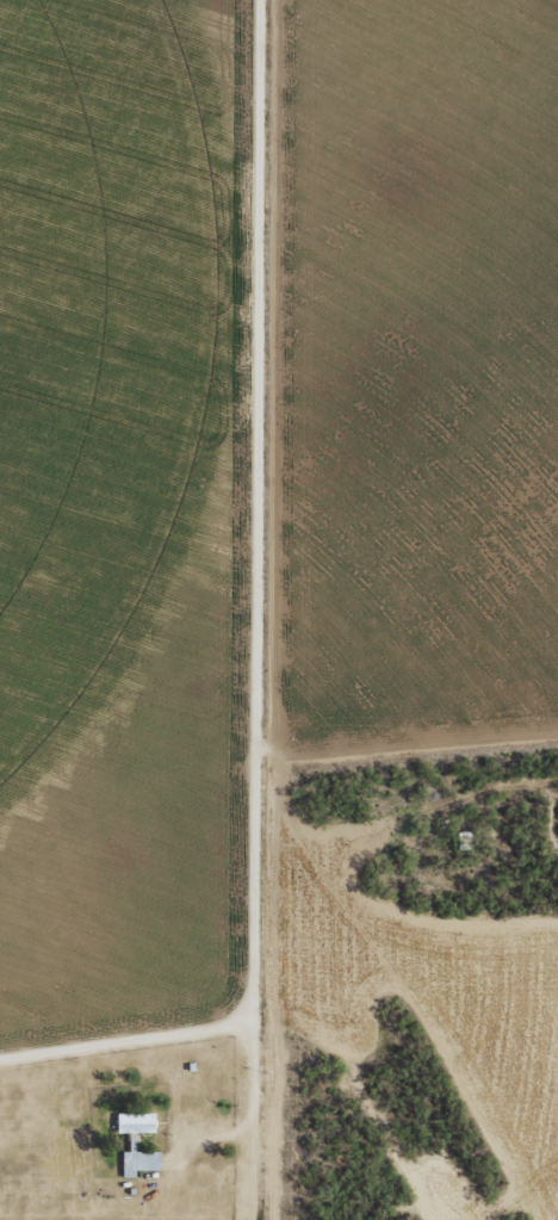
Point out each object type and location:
road: (252, 624)
building: (137, 1122)

